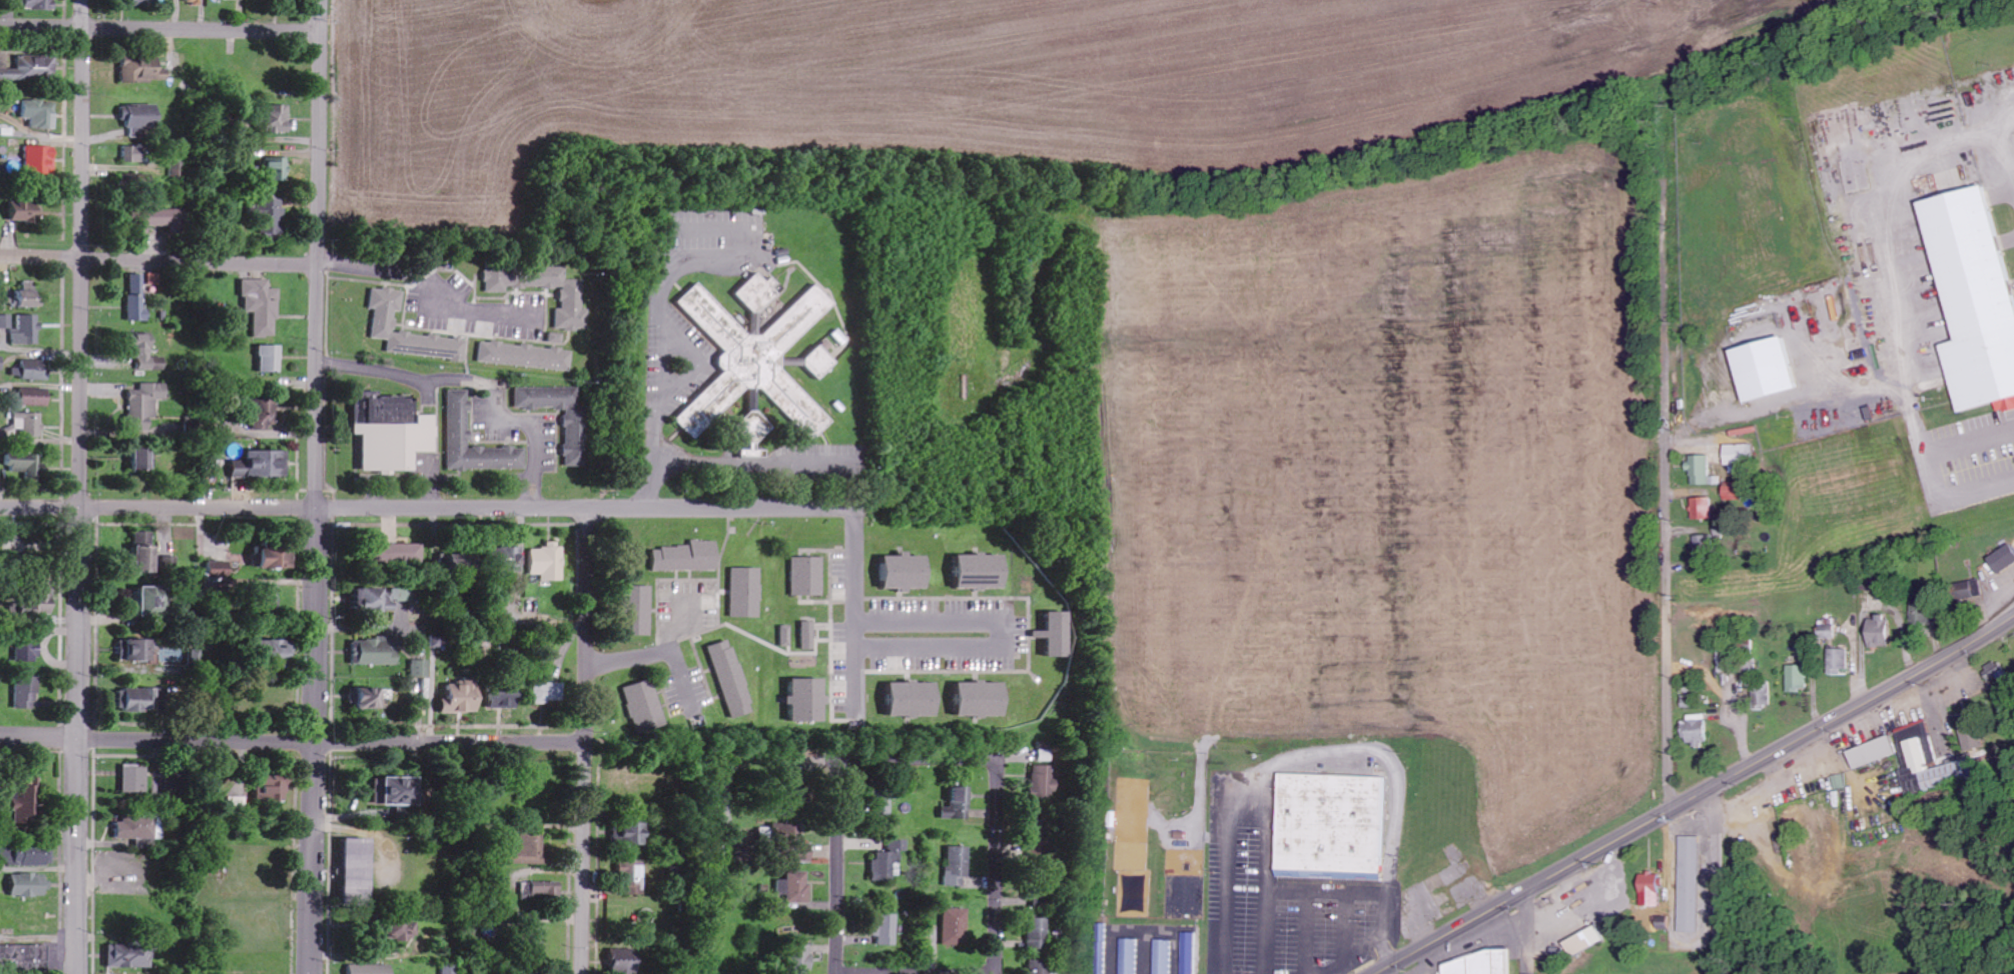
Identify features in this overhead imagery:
building: (193, 2)
building: (143, 3)
building: (39, 4)
road: (162, 28)
building: (29, 66)
building: (145, 68)
building: (39, 113)
building: (140, 118)
building: (278, 118)
building: (133, 154)
building: (41, 160)
building: (278, 169)
building: (25, 212)
building: (270, 217)
building: (166, 219)
road: (159, 262)
road: (430, 289)
building: (20, 296)
building: (1973, 296)
building: (137, 298)
building: (570, 300)
building: (263, 306)
building: (5, 321)
building: (385, 321)
building: (26, 330)
building: (555, 338)
building: (146, 353)
building: (524, 356)
building: (272, 359)
building: (820, 360)
building: (753, 361)
building: (1, 363)
building: (1763, 368)
building: (32, 370)
building: (36, 397)
building: (146, 404)
building: (266, 412)
building: (457, 419)
building: (25, 427)
building: (392, 431)
building: (573, 437)
building: (1739, 453)
building: (145, 459)
building: (264, 464)
building: (25, 465)
building: (1699, 468)
road: (316, 486)
road: (84, 487)
road: (1670, 495)
road: (427, 506)
building: (1706, 508)
building: (146, 553)
building: (398, 554)
building: (277, 557)
building: (688, 557)
building: (2002, 558)
building: (508, 559)
building: (459, 561)
building: (547, 562)
building: (219, 570)
building: (983, 571)
building: (907, 572)
building: (809, 576)
road: (856, 577)
building: (1966, 589)
building: (746, 593)
building: (376, 600)
building: (155, 602)
building: (36, 607)
parking lot: (688, 608)
building: (638, 611)
building: (1826, 628)
building: (1877, 631)
road: (1007, 632)
parking lot: (947, 634)
building: (1059, 634)
building: (786, 635)
building: (809, 635)
road: (670, 649)
building: (137, 650)
building: (28, 652)
building: (276, 652)
building: (375, 652)
road: (628, 656)
building: (1837, 660)
building: (420, 669)
building: (1797, 678)
building: (731, 679)
road: (856, 679)
parking lot: (687, 691)
building: (27, 692)
building: (549, 693)
building: (1763, 694)
building: (368, 698)
building: (461, 698)
building: (505, 698)
building: (984, 699)
building: (139, 700)
building: (809, 700)
building: (915, 700)
building: (645, 709)
building: (1695, 730)
road: (584, 740)
road: (291, 741)
building: (1871, 752)
road: (917, 763)
building: (135, 779)
building: (1044, 780)
building: (1839, 781)
building: (272, 788)
road: (1694, 796)
building: (26, 802)
building: (959, 805)
road: (1248, 817)
building: (136, 828)
building: (1335, 828)
building: (635, 834)
building: (790, 839)
building: (528, 848)
building: (27, 855)
building: (887, 861)
building: (1189, 863)
building: (956, 865)
road: (836, 868)
road: (996, 868)
building: (359, 870)
building: (633, 877)
road: (1717, 880)
building: (1689, 883)
building: (30, 885)
building: (793, 887)
building: (540, 889)
building: (1648, 889)
road: (1363, 891)
parking lot: (1289, 908)
building: (954, 927)
building: (883, 929)
building: (403, 930)
road: (1527, 931)
building: (1041, 934)
building: (1584, 940)
road: (1306, 947)
building: (1190, 953)
building: (131, 956)
building: (1131, 956)
building: (1164, 956)
road: (1362, 956)
building: (24, 959)
building: (799, 959)
building: (627, 961)
building: (1474, 964)
building: (1039, 967)
building: (369, 969)
road: (916, 972)

